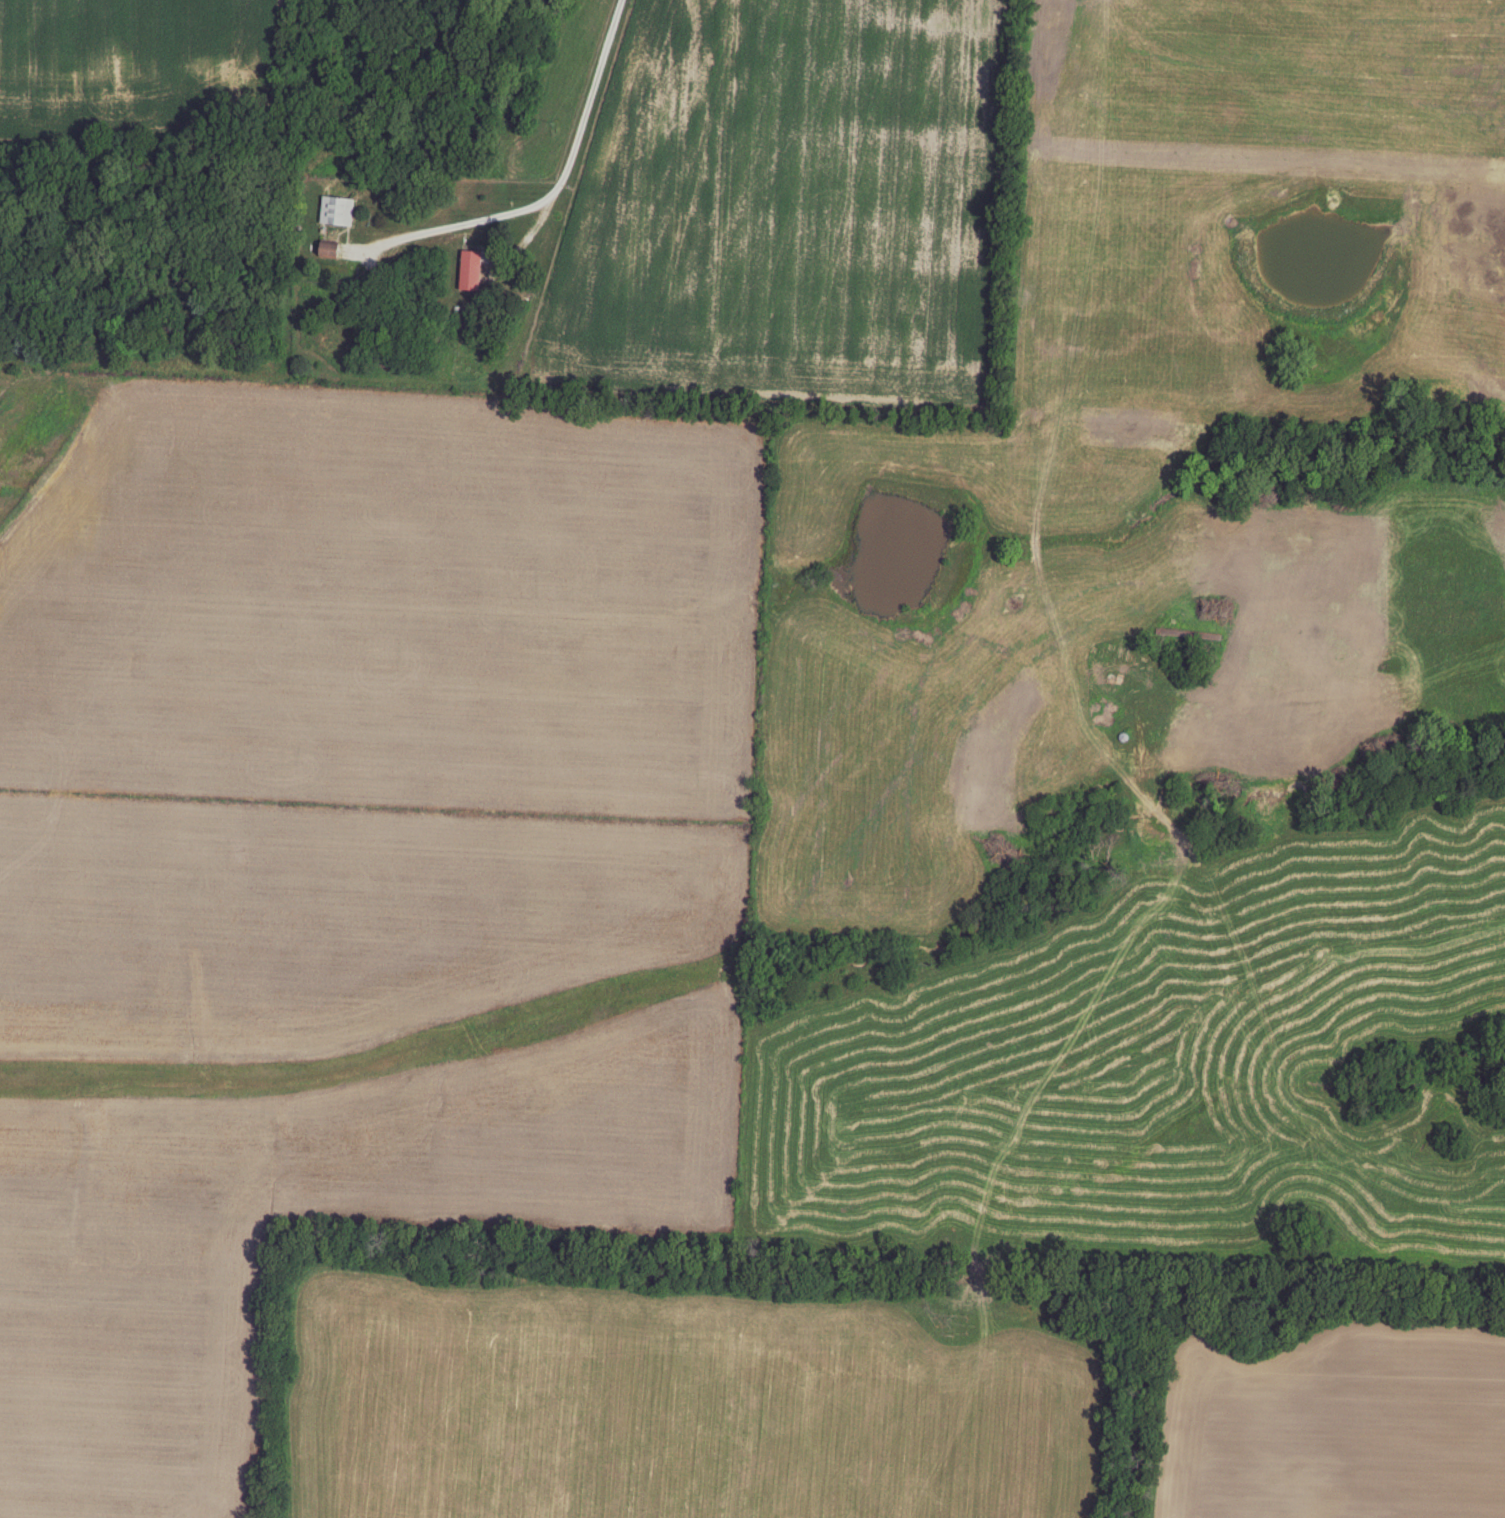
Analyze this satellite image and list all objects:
road: (550, 199)
building: (337, 207)
building: (470, 267)

